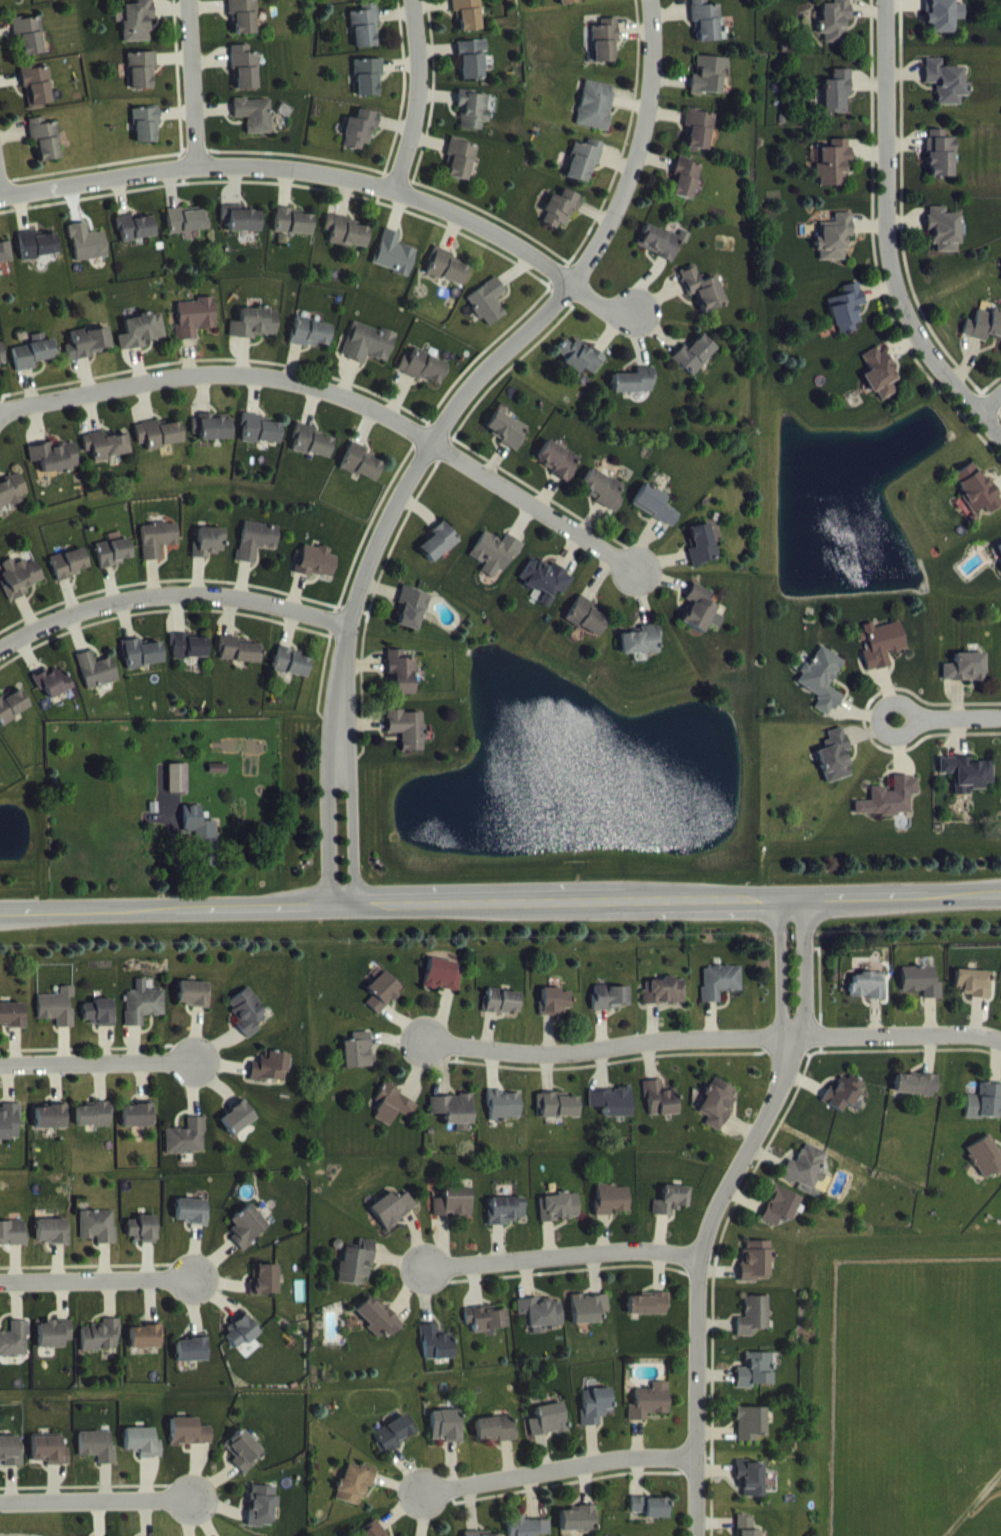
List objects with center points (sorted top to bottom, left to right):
building: (696, 0)
building: (126, 1)
building: (359, 2)
building: (31, 5)
building: (567, 8)
building: (942, 24)
building: (467, 25)
building: (242, 28)
building: (705, 33)
building: (136, 34)
building: (835, 34)
building: (365, 40)
building: (28, 49)
building: (604, 54)
building: (471, 73)
building: (244, 81)
road: (189, 83)
building: (141, 85)
building: (708, 89)
building: (368, 91)
road: (415, 93)
building: (946, 96)
building: (36, 101)
building: (836, 106)
building: (595, 119)
building: (472, 124)
building: (254, 129)
building: (145, 139)
building: (359, 143)
building: (698, 143)
building: (44, 152)
building: (939, 168)
building: (459, 172)
building: (584, 174)
road: (336, 175)
building: (833, 177)
building: (685, 193)
building: (561, 222)
building: (241, 233)
building: (186, 234)
road: (886, 234)
building: (293, 236)
building: (135, 242)
building: (943, 243)
building: (346, 246)
building: (834, 251)
building: (661, 255)
building: (87, 257)
building: (36, 259)
building: (4, 267)
building: (393, 268)
building: (445, 281)
building: (703, 303)
building: (488, 315)
building: (846, 323)
building: (195, 332)
building: (254, 337)
building: (984, 340)
building: (142, 345)
building: (310, 347)
building: (89, 357)
building: (367, 357)
road: (488, 366)
building: (34, 367)
building: (694, 368)
building: (1, 370)
building: (581, 371)
building: (422, 381)
building: (879, 387)
road: (342, 395)
building: (635, 395)
road: (992, 402)
building: (212, 441)
building: (507, 443)
building: (259, 444)
building: (158, 448)
building: (312, 456)
building: (106, 459)
building: (55, 470)
building: (557, 473)
building: (360, 477)
building: (976, 502)
building: (603, 503)
building: (11, 504)
building: (655, 519)
building: (158, 553)
building: (256, 554)
building: (439, 556)
building: (208, 557)
building: (702, 559)
building: (999, 562)
building: (496, 566)
building: (114, 567)
building: (315, 576)
building: (69, 578)
building: (1000, 579)
road: (169, 591)
building: (20, 592)
building: (545, 594)
building: (412, 622)
building: (701, 623)
building: (586, 630)
building: (641, 655)
building: (881, 657)
building: (188, 661)
building: (239, 664)
building: (142, 668)
building: (292, 677)
building: (965, 682)
building: (97, 684)
building: (402, 686)
building: (822, 693)
building: (52, 696)
road: (880, 705)
road: (958, 718)
building: (12, 720)
building: (408, 743)
building: (834, 770)
building: (217, 782)
building: (966, 787)
building: (178, 792)
building: (888, 812)
road: (355, 823)
road: (327, 824)
building: (201, 852)
road: (500, 900)
building: (442, 989)
building: (720, 995)
building: (921, 996)
building: (973, 997)
building: (867, 999)
building: (664, 1005)
building: (383, 1006)
building: (194, 1008)
building: (610, 1011)
building: (502, 1015)
building: (556, 1015)
building: (144, 1018)
building: (58, 1021)
building: (99, 1027)
building: (248, 1027)
building: (12, 1029)
road: (712, 1039)
road: (96, 1062)
building: (359, 1065)
building: (271, 1082)
building: (915, 1098)
building: (842, 1107)
building: (659, 1112)
building: (611, 1115)
building: (984, 1116)
building: (717, 1117)
building: (394, 1119)
building: (504, 1119)
building: (557, 1119)
building: (454, 1124)
building: (95, 1129)
building: (138, 1130)
building: (51, 1131)
building: (238, 1132)
building: (10, 1135)
building: (188, 1152)
building: (985, 1170)
building: (805, 1183)
building: (611, 1213)
road: (725, 1213)
building: (671, 1214)
building: (453, 1217)
building: (780, 1220)
building: (559, 1221)
building: (393, 1223)
building: (506, 1224)
building: (192, 1226)
building: (99, 1240)
building: (247, 1241)
building: (142, 1243)
building: (52, 1246)
building: (13, 1247)
road: (561, 1261)
building: (756, 1275)
road: (99, 1278)
building: (356, 1278)
building: (266, 1294)
building: (648, 1318)
building: (589, 1322)
building: (541, 1327)
building: (754, 1330)
building: (377, 1331)
building: (487, 1332)
building: (54, 1348)
building: (102, 1350)
building: (146, 1351)
building: (15, 1354)
building: (435, 1357)
building: (193, 1363)
building: (757, 1385)
building: (650, 1416)
building: (595, 1419)
building: (548, 1434)
building: (751, 1437)
building: (445, 1439)
building: (496, 1442)
building: (190, 1446)
building: (394, 1447)
building: (144, 1457)
building: (98, 1460)
building: (51, 1465)
building: (243, 1465)
building: (11, 1466)
road: (562, 1471)
building: (751, 1492)
road: (97, 1498)
building: (354, 1498)
building: (262, 1517)
building: (650, 1521)
building: (579, 1528)
building: (516, 1532)
building: (745, 1532)
building: (375, 1535)

